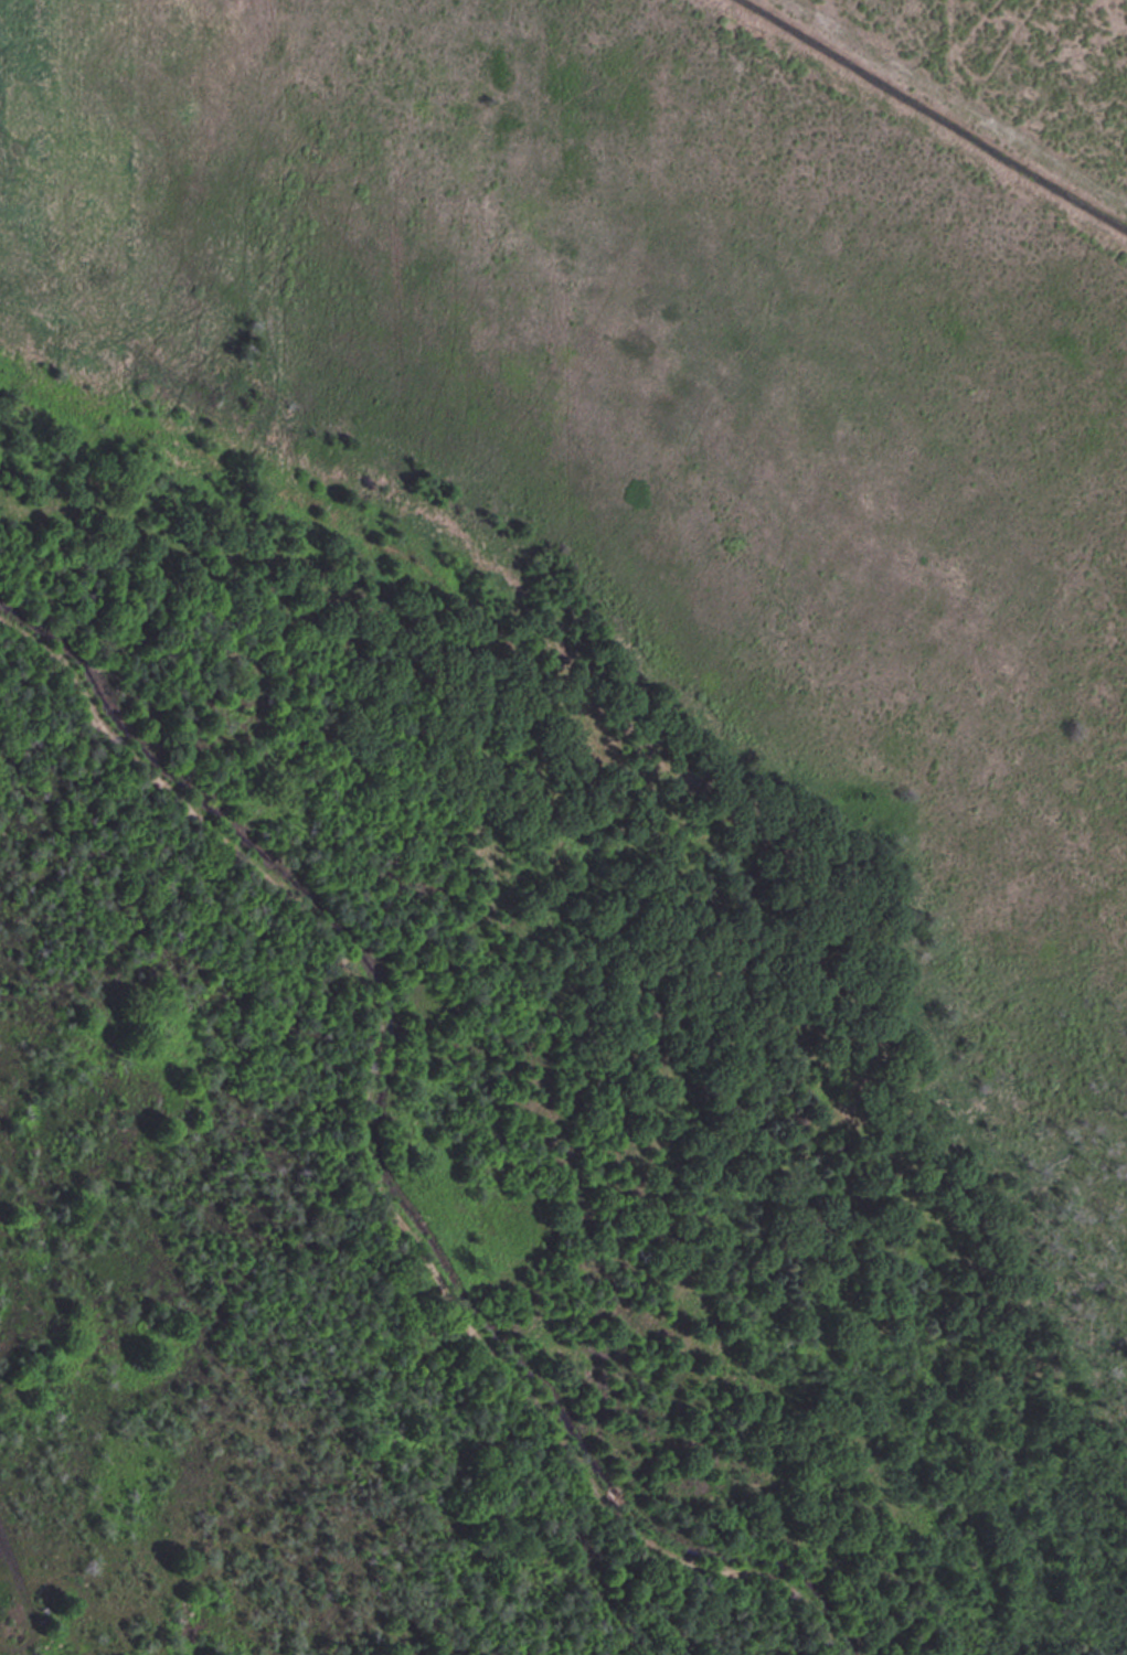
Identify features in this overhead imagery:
road: (390, 1142)

